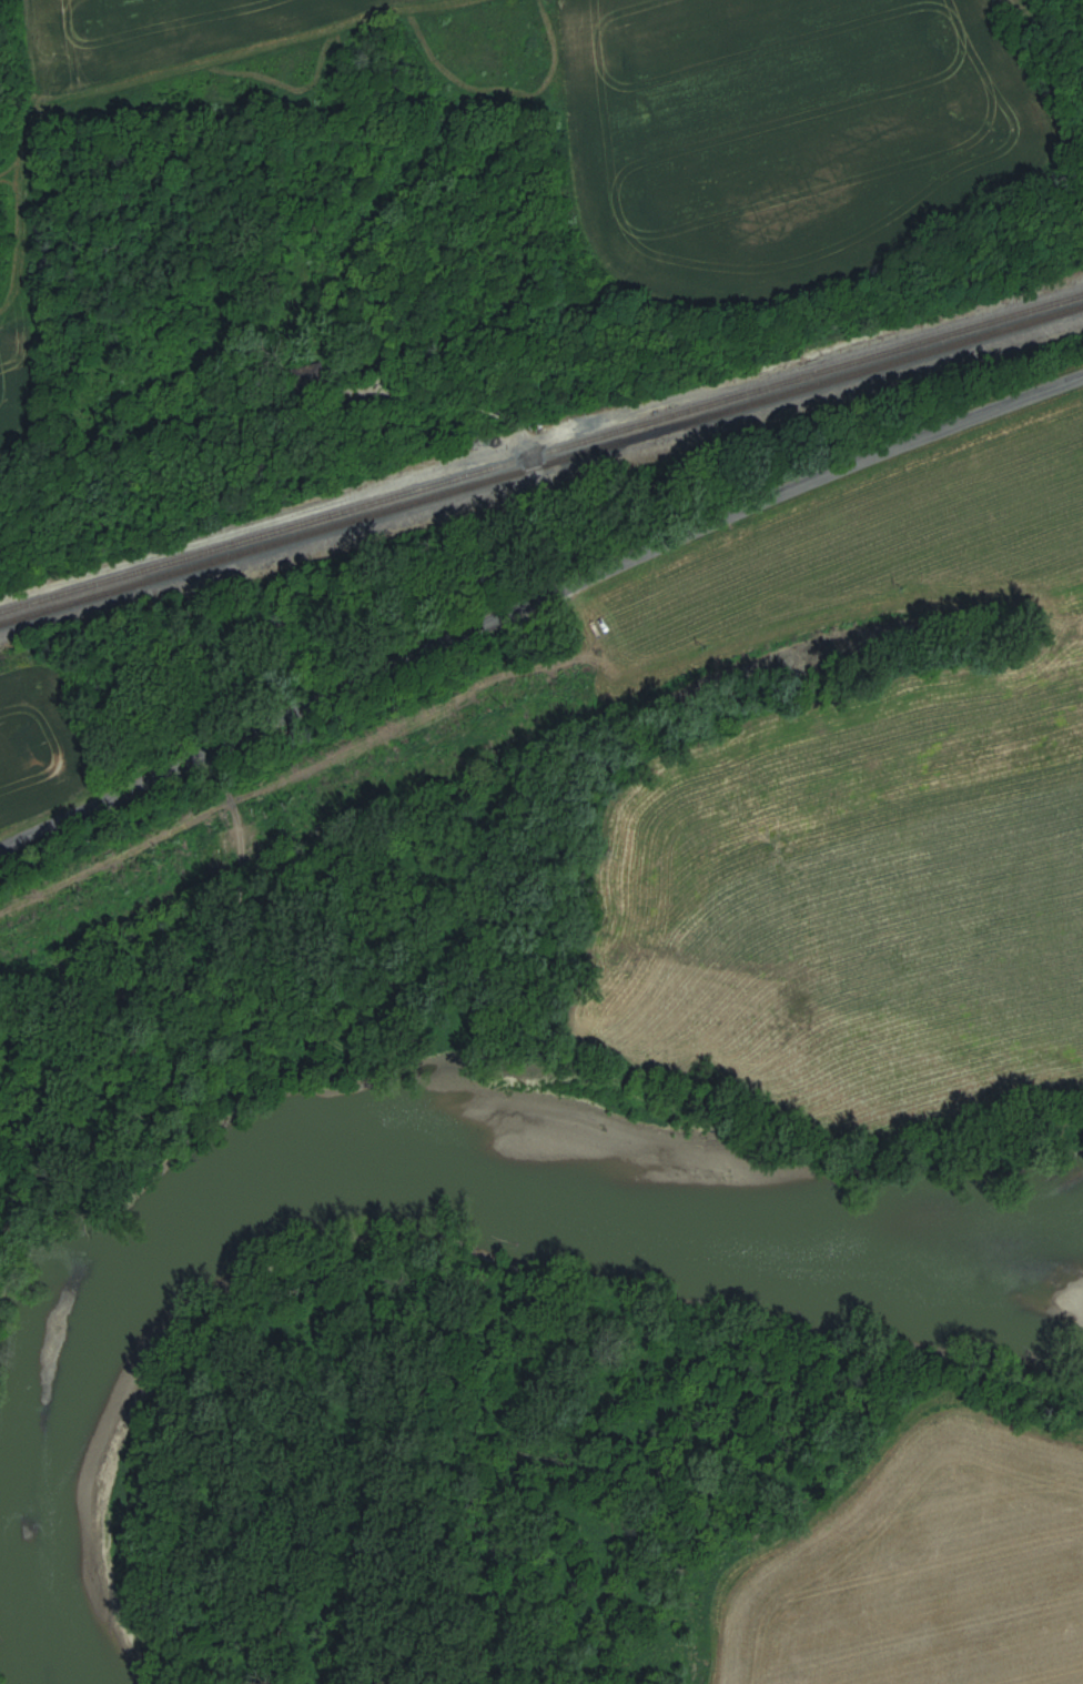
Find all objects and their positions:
road: (1042, 52)
road: (513, 424)
railway: (540, 464)
road: (537, 602)
crop: (894, 768)
river: (388, 1181)
crop: (927, 1566)

